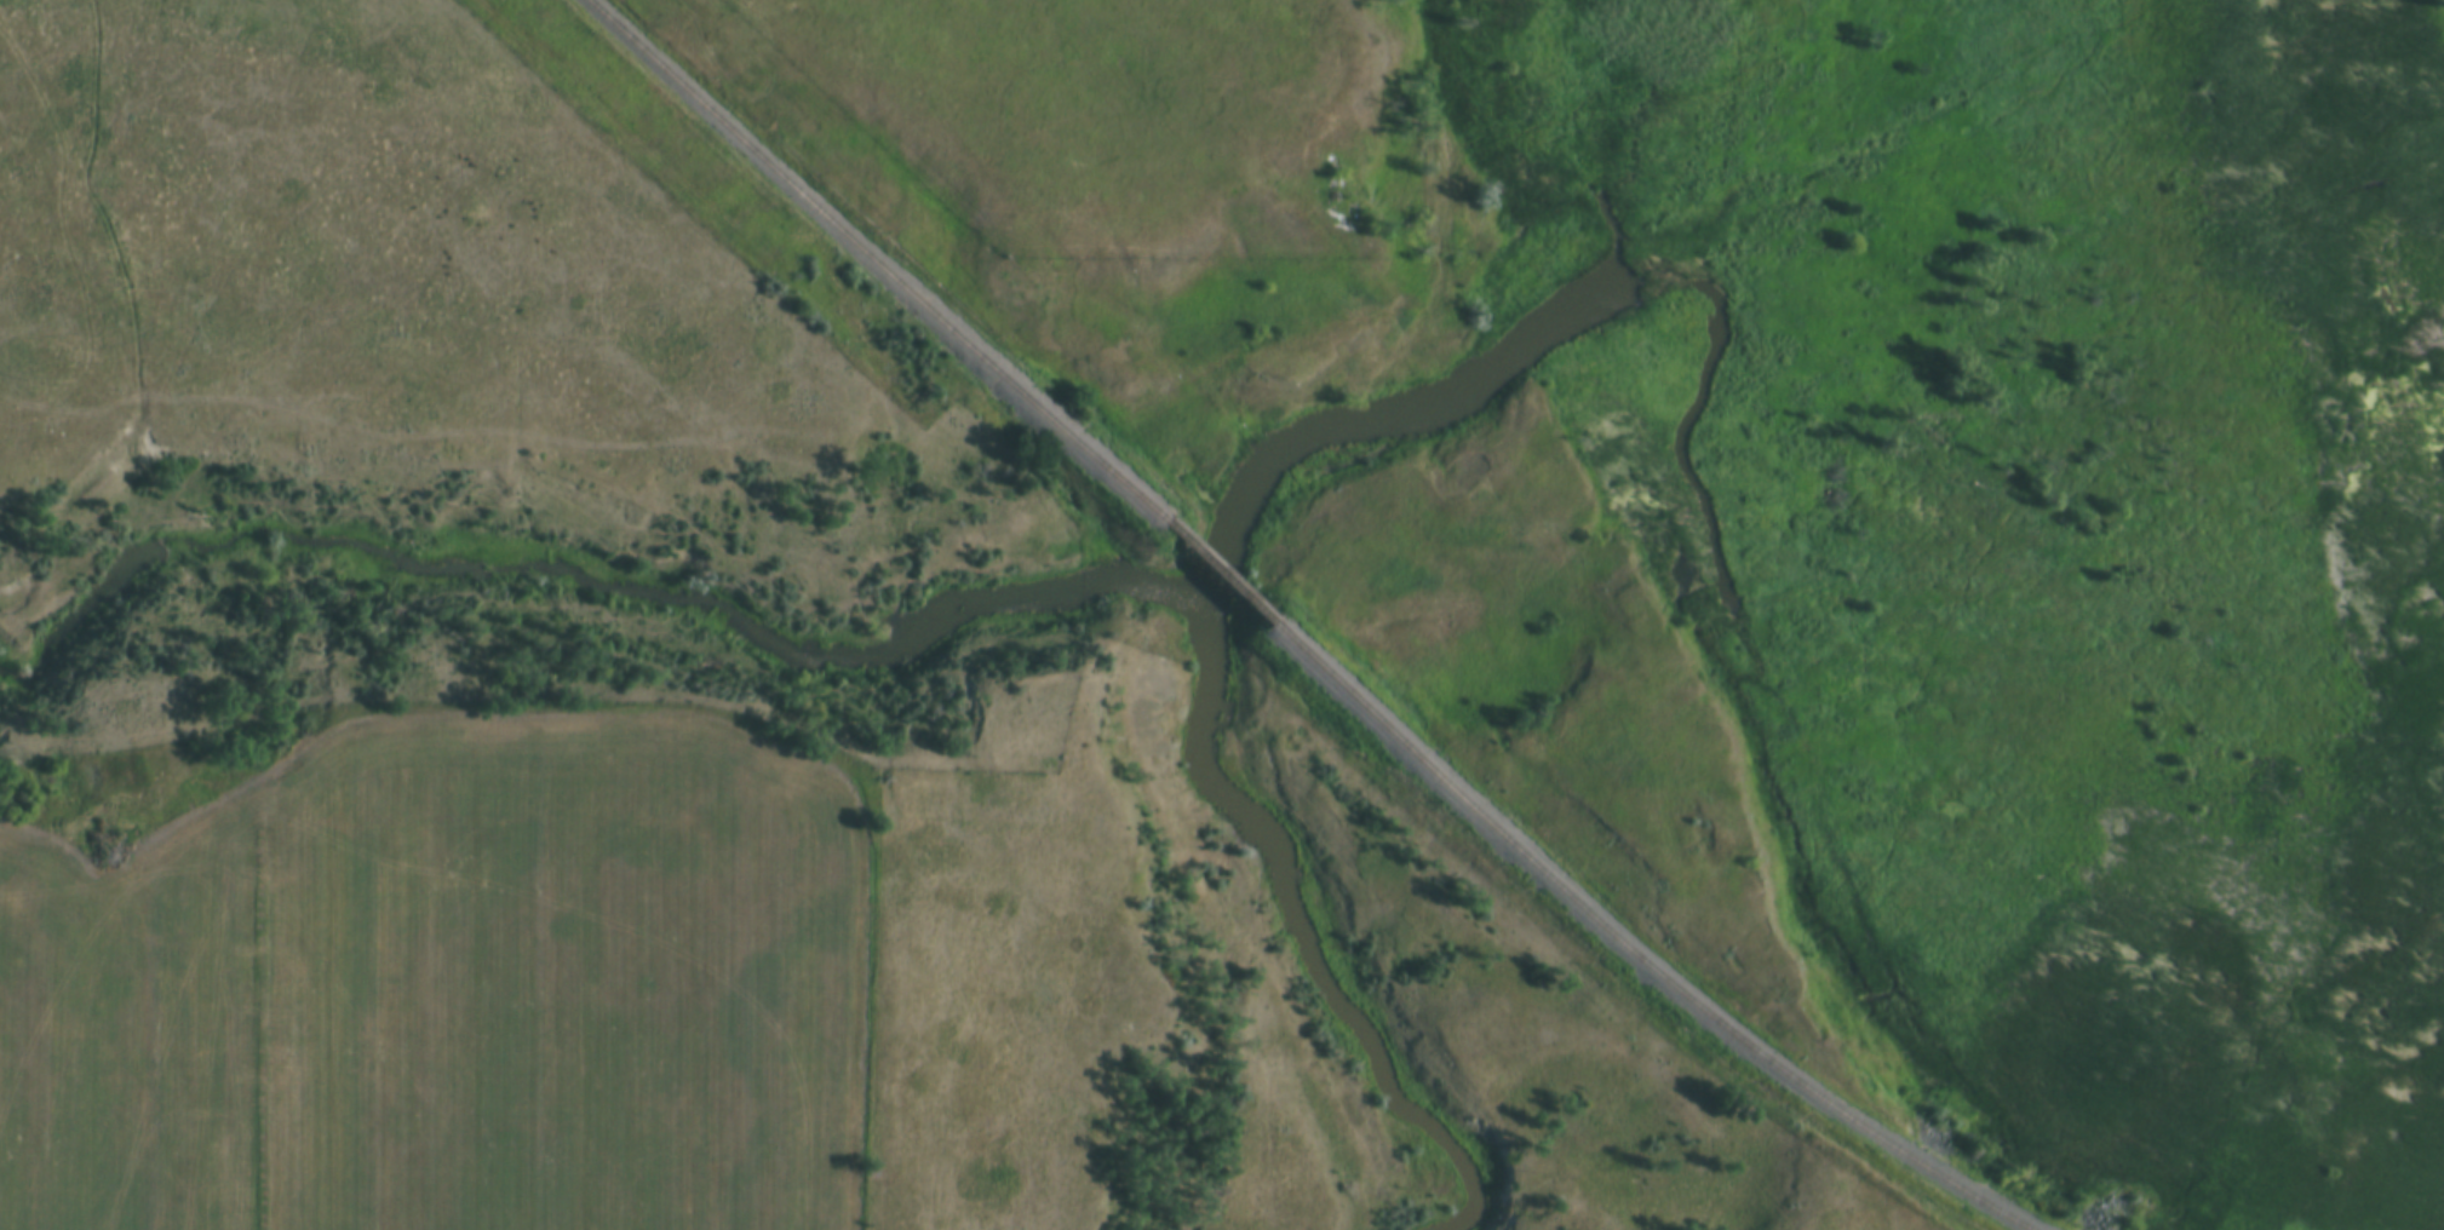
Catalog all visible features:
park: (1136, 117)
railway: (885, 260)
railway: (1214, 571)
railway: (1631, 950)

